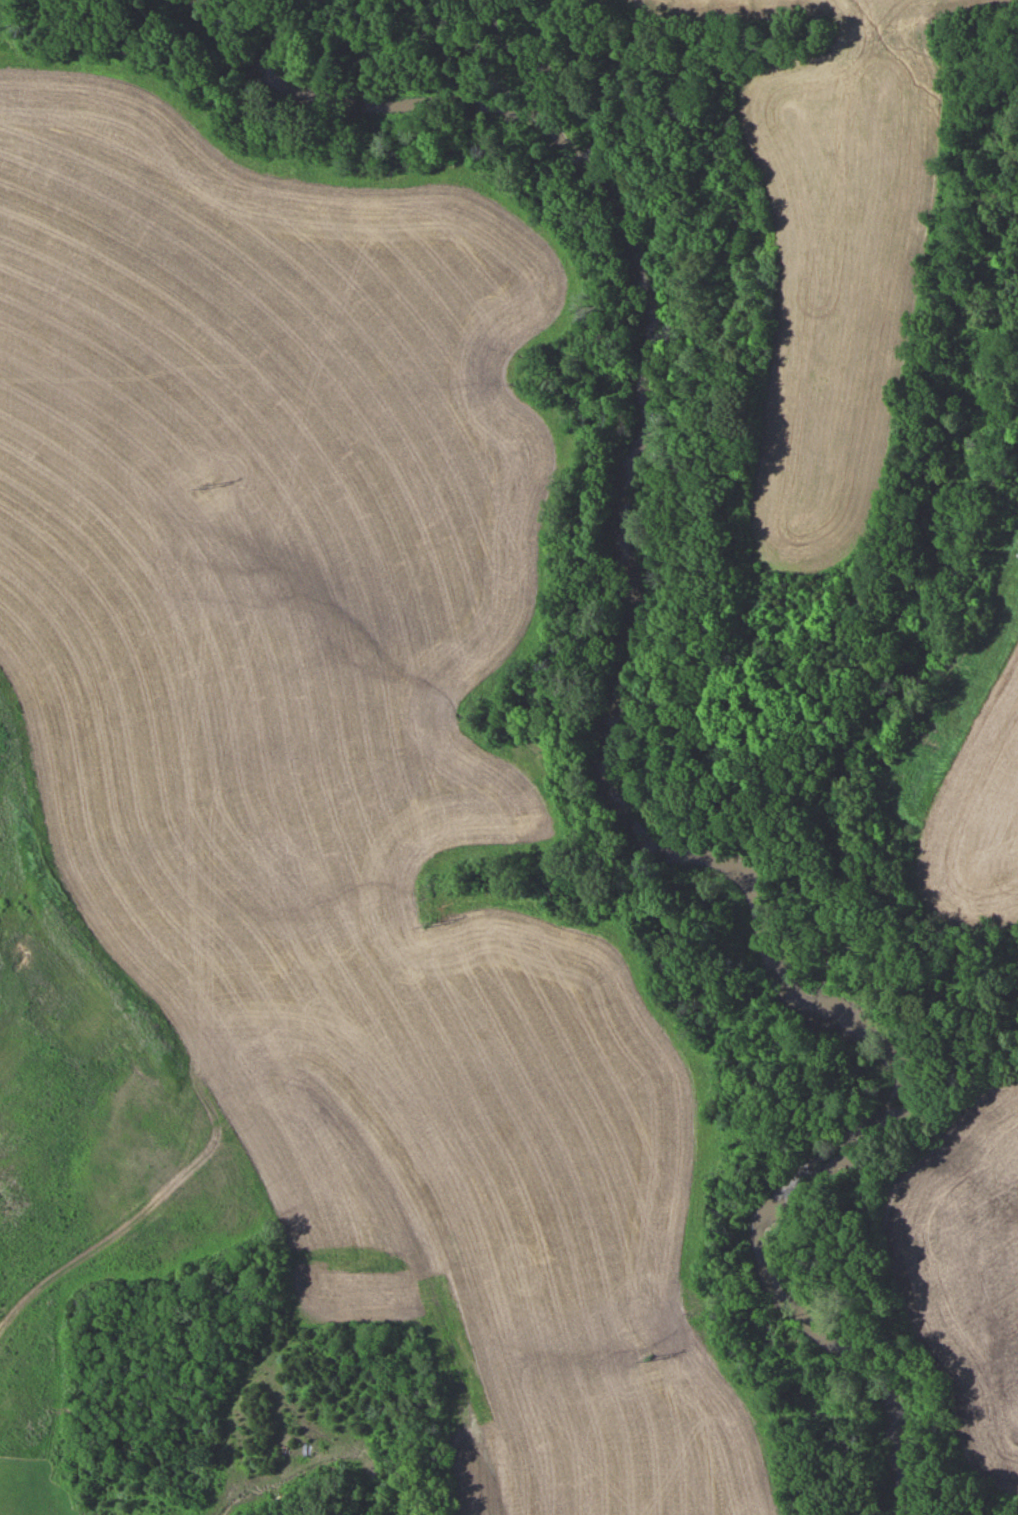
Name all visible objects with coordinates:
power tower: (207, 488)
power tower: (428, 927)
power tower: (651, 1359)

